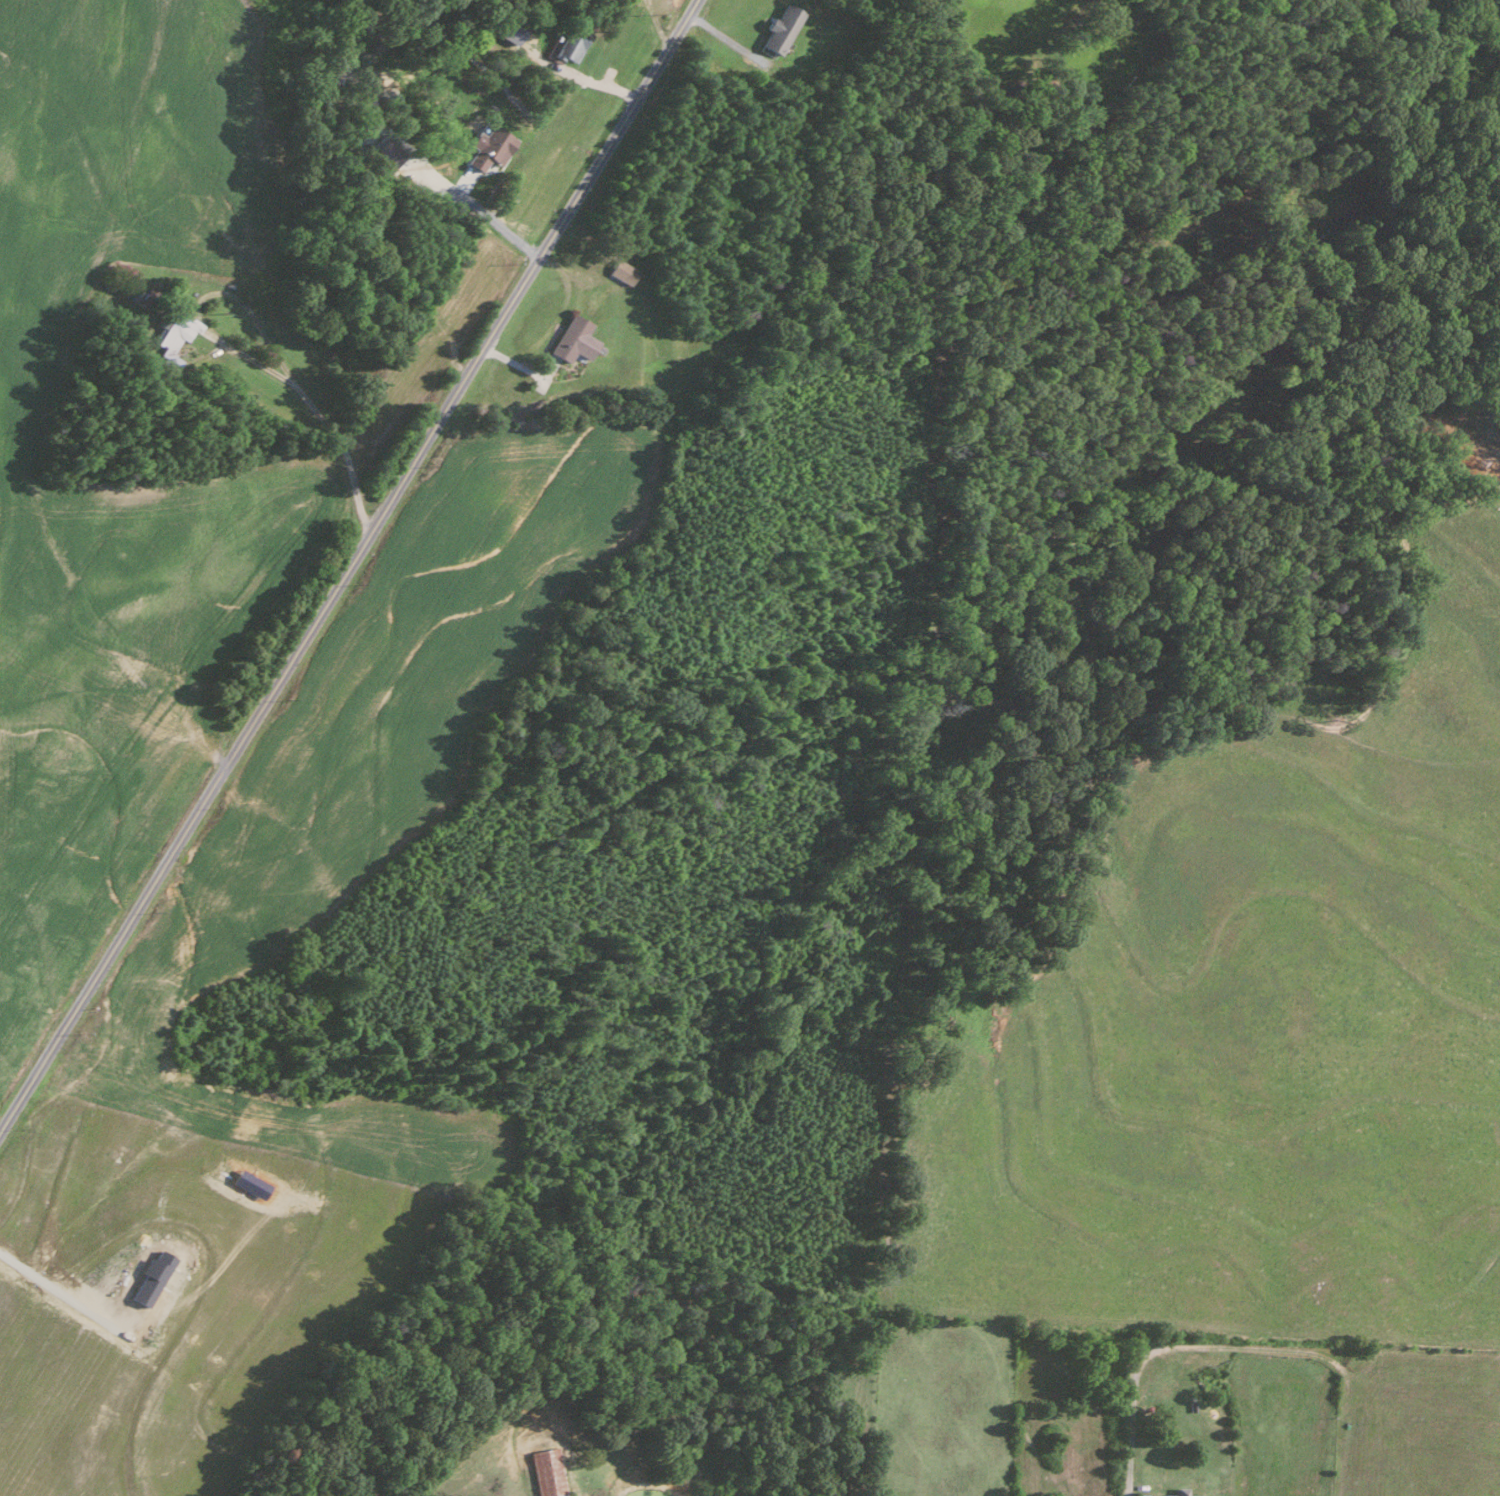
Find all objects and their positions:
building: (780, 27)
building: (509, 29)
building: (570, 42)
building: (487, 146)
road: (489, 217)
building: (620, 270)
building: (147, 297)
building: (175, 332)
building: (571, 338)
road: (266, 339)
road: (350, 561)
road: (62, 1293)
airport runway: (1282, 1435)
road: (1129, 1451)
building: (549, 1471)
building: (1178, 1492)

